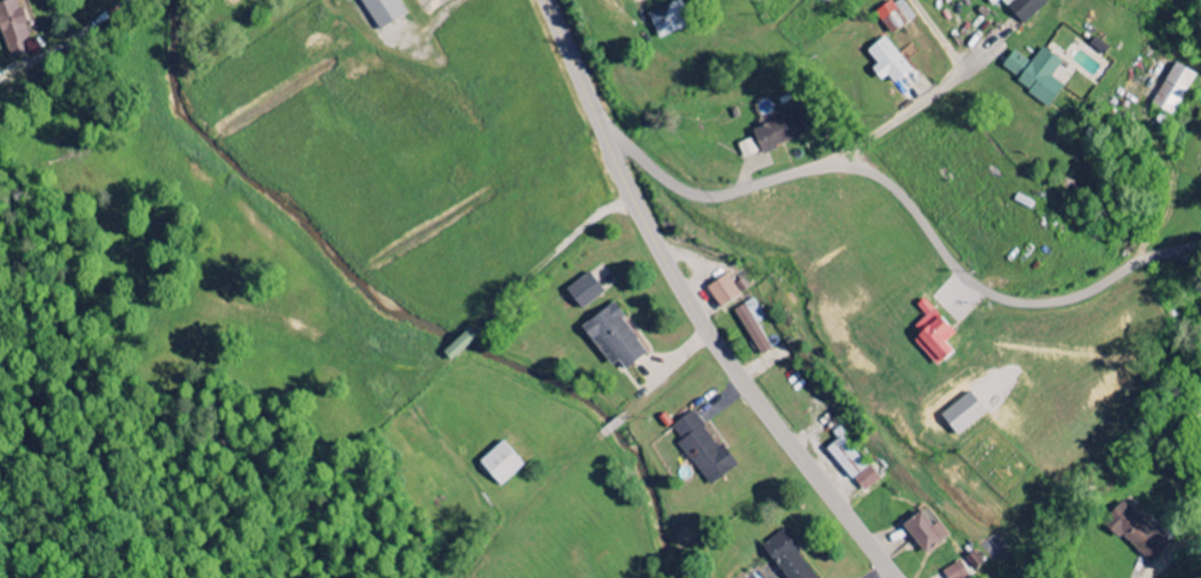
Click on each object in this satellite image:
building: (1023, 8)
building: (382, 11)
building: (894, 16)
building: (668, 19)
building: (13, 30)
road: (84, 30)
building: (887, 61)
building: (1035, 74)
building: (1173, 90)
road: (930, 101)
building: (777, 132)
building: (747, 148)
park: (1195, 157)
road: (1167, 197)
road: (904, 205)
building: (583, 291)
building: (722, 291)
road: (692, 305)
building: (759, 335)
building: (933, 335)
building: (613, 339)
building: (702, 449)
park: (995, 456)
building: (499, 464)
building: (853, 464)
building: (923, 533)
building: (1135, 533)
road: (887, 543)
building: (785, 558)
building: (973, 560)
building: (956, 572)

